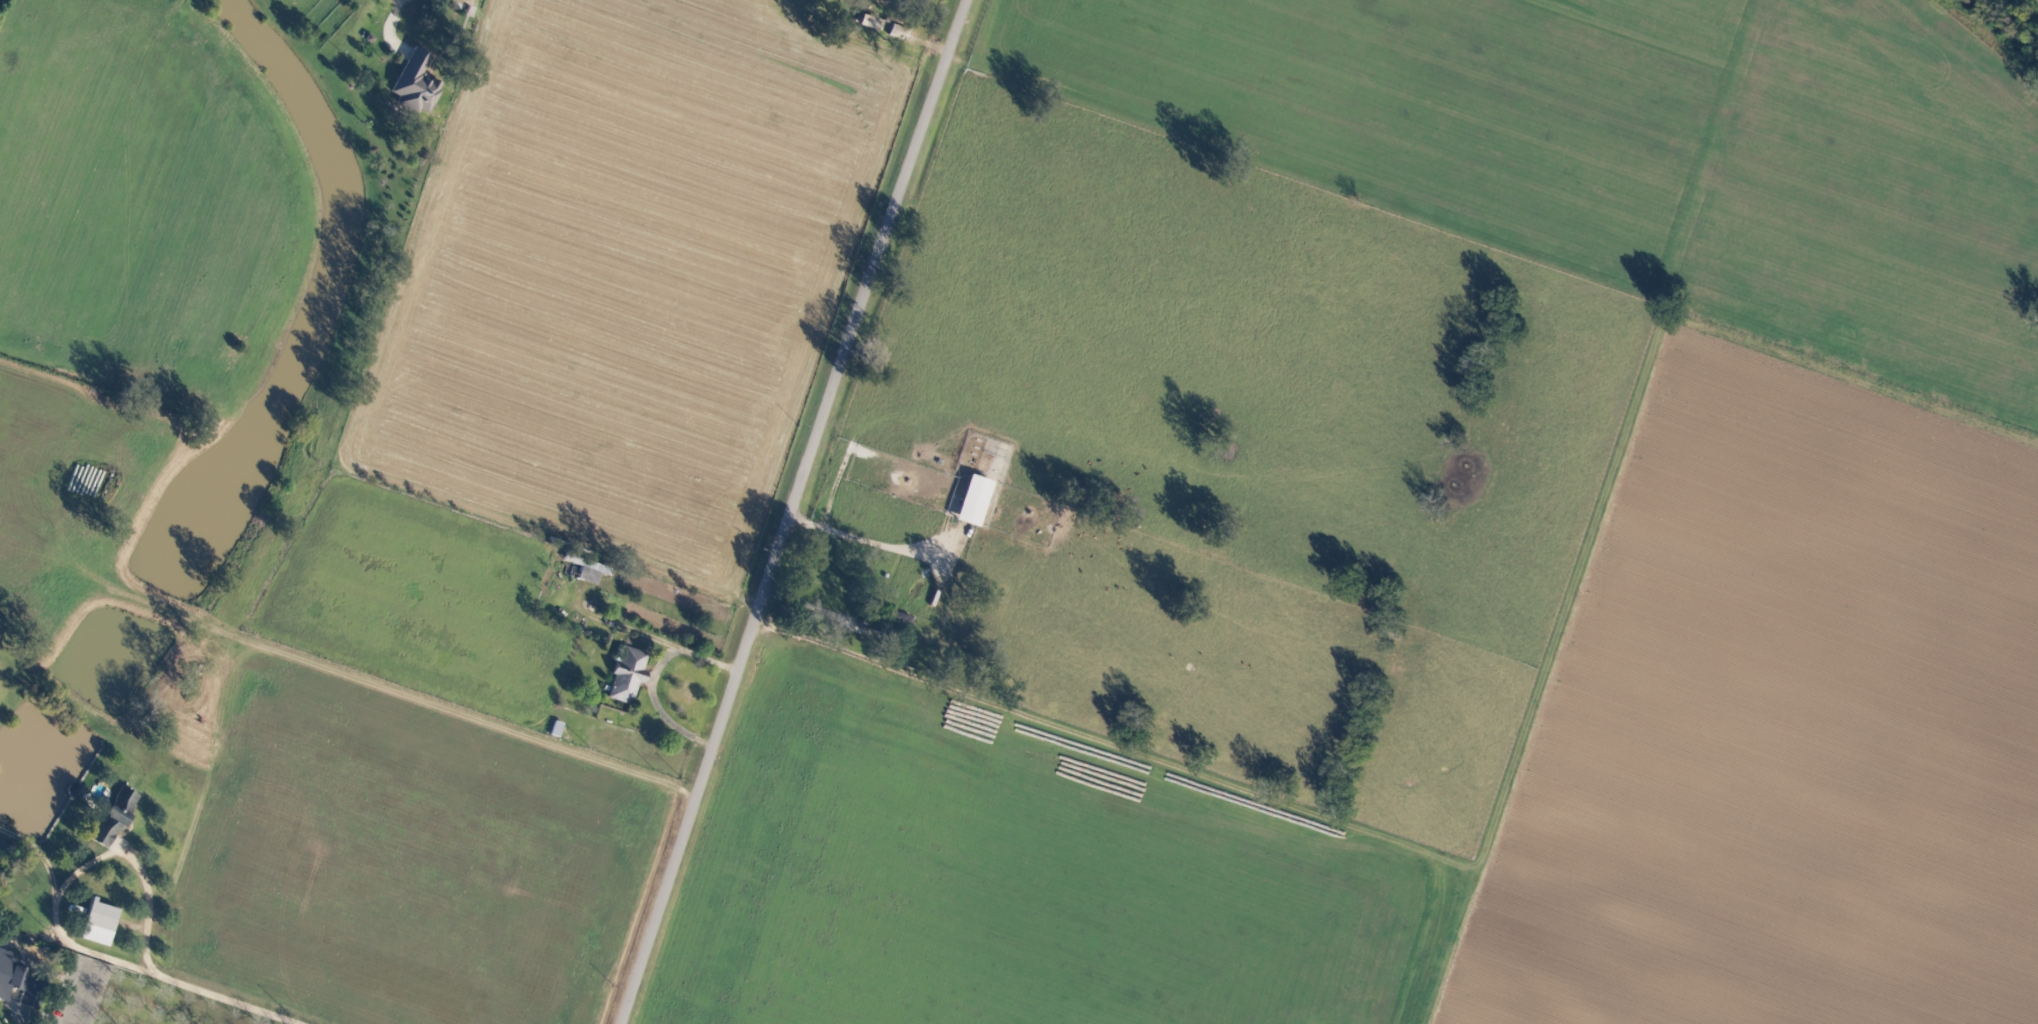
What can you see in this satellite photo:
building: (874, 22)
building: (901, 31)
building: (416, 82)
building: (973, 498)
road: (793, 511)
road: (869, 539)
building: (587, 568)
road: (814, 608)
building: (895, 624)
building: (627, 673)
road: (652, 674)
building: (78, 790)
building: (114, 815)
road: (136, 866)
road: (50, 870)
helipad: (1932, 911)
building: (101, 914)
building: (17, 977)
road: (180, 981)
road: (65, 985)

